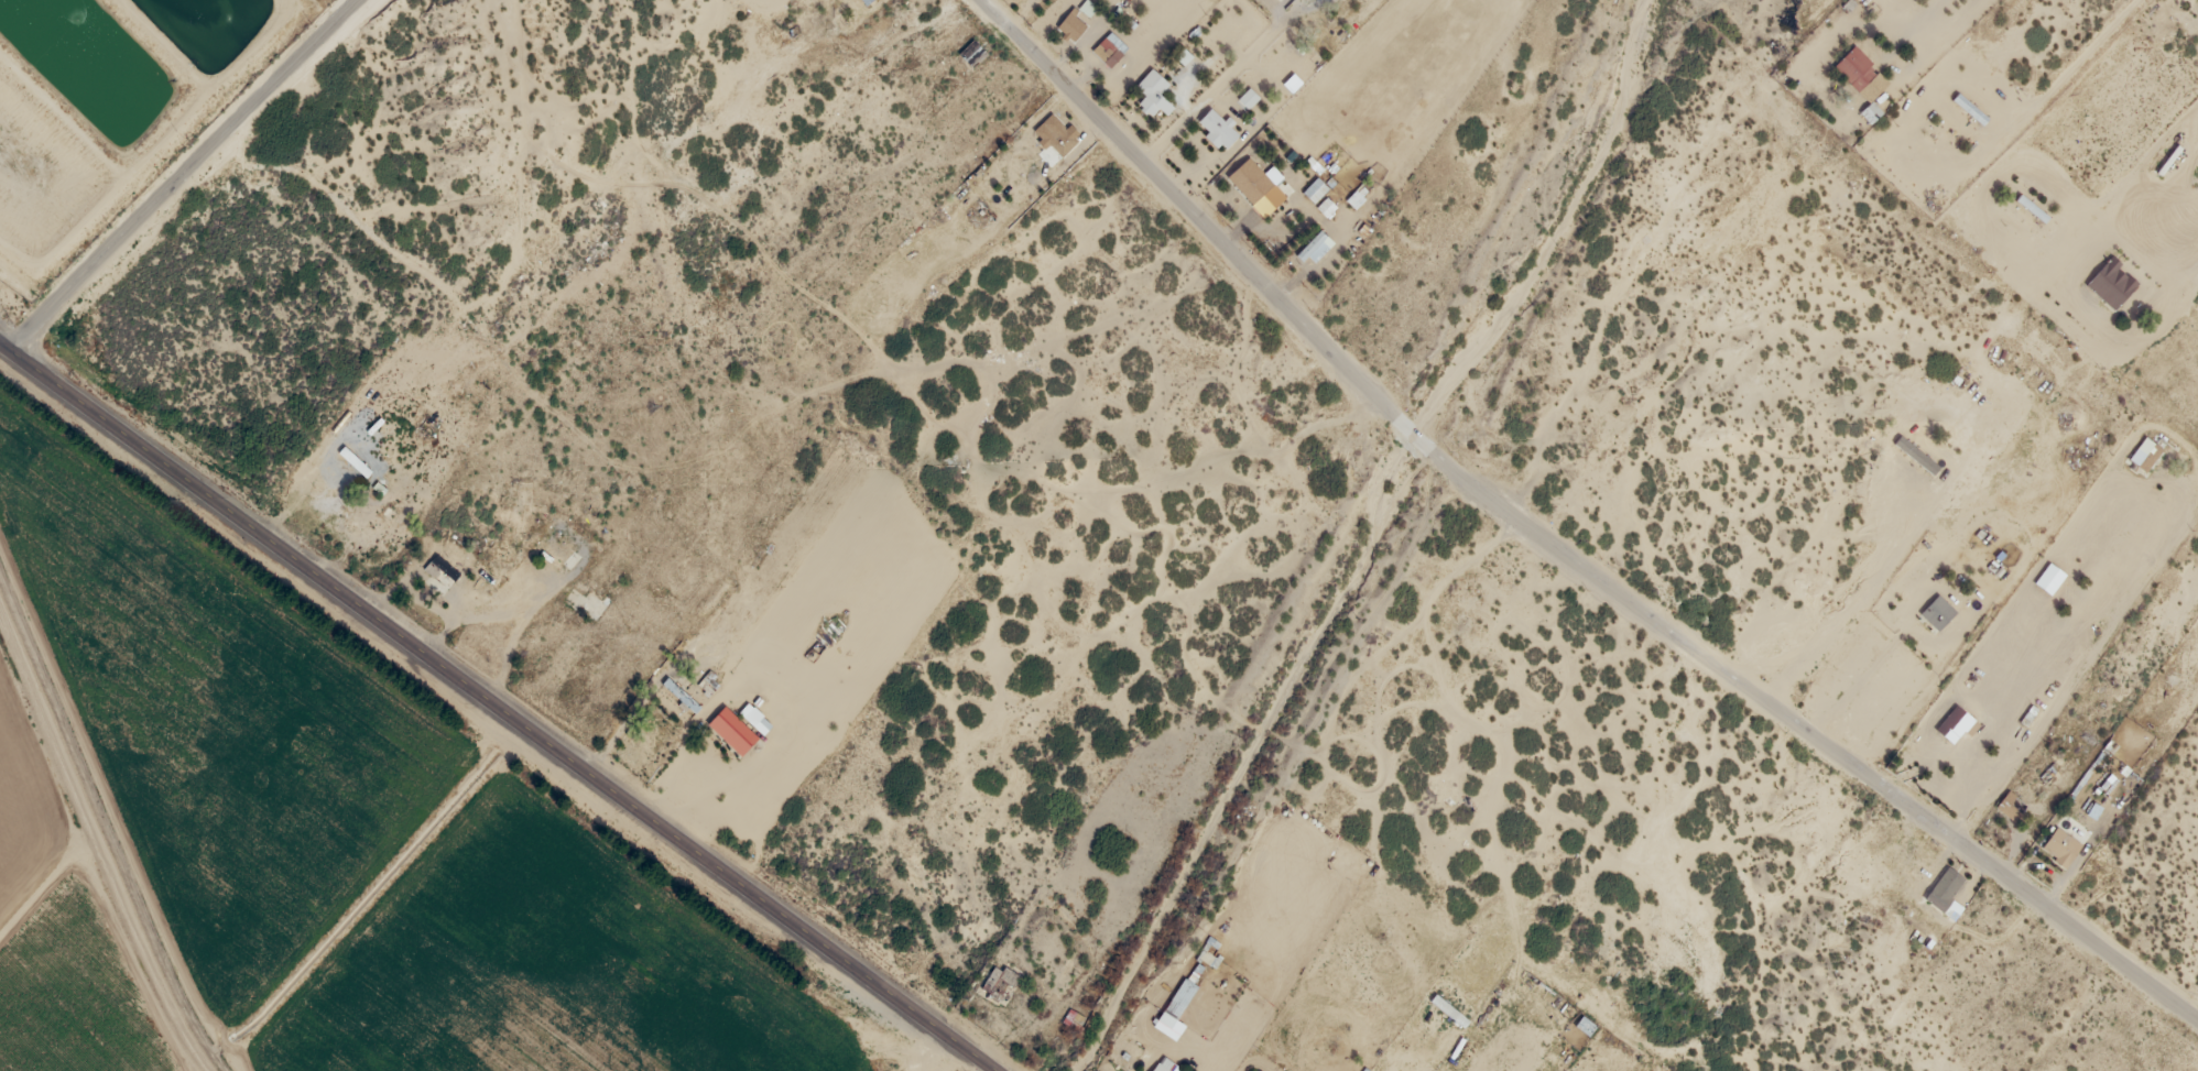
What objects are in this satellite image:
building: (1071, 23)
building: (1110, 46)
building: (1856, 66)
building: (1153, 91)
building: (1871, 112)
building: (1218, 127)
building: (1062, 136)
road: (177, 176)
building: (1251, 177)
building: (1318, 185)
building: (1329, 201)
building: (1912, 451)
building: (2146, 452)
road: (1559, 547)
building: (1938, 608)
road: (1991, 623)
road: (492, 711)
building: (1956, 720)
building: (730, 731)
building: (2061, 845)
building: (1946, 885)
building: (1000, 981)
building: (1182, 995)
building: (1164, 1067)

